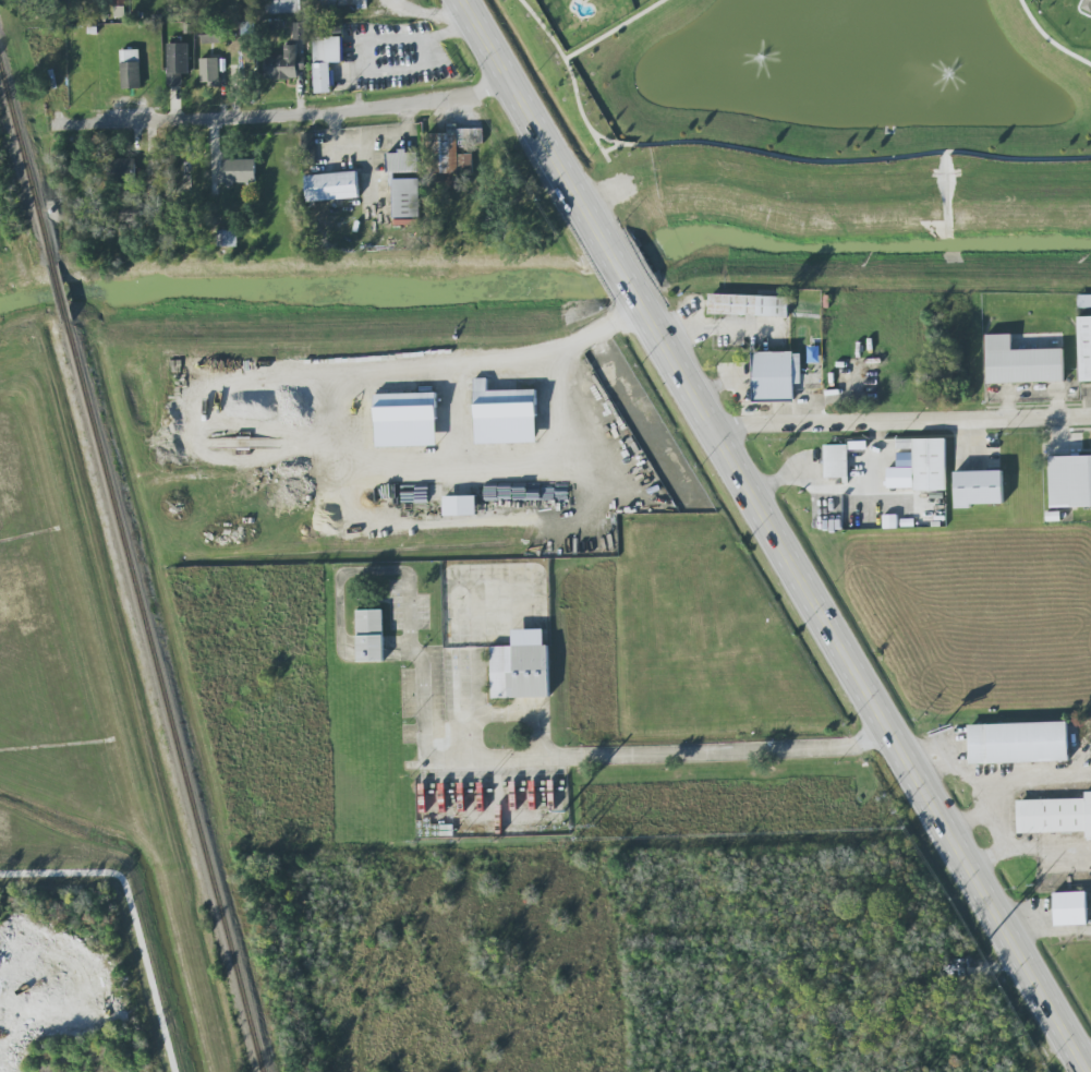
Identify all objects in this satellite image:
building: (120, 1)
building: (343, 3)
building: (1087, 5)
building: (283, 7)
road: (431, 13)
road: (614, 29)
building: (300, 32)
building: (211, 37)
road: (1050, 38)
road: (363, 44)
fountain: (761, 59)
road: (563, 60)
building: (325, 61)
building: (178, 62)
building: (282, 64)
building: (131, 69)
building: (209, 71)
fountain: (951, 73)
road: (360, 93)
road: (284, 122)
road: (535, 127)
road: (373, 134)
road: (598, 146)
road: (611, 148)
building: (452, 153)
railway: (27, 159)
road: (838, 161)
building: (122, 169)
building: (240, 170)
building: (332, 186)
building: (132, 213)
building: (407, 221)
building: (228, 238)
road: (621, 274)
railway: (62, 294)
building: (1083, 302)
building: (749, 305)
building: (1082, 348)
building: (1017, 362)
road: (476, 374)
building: (777, 375)
building: (505, 415)
building: (405, 420)
road: (451, 423)
road: (900, 423)
road: (557, 455)
building: (838, 461)
building: (930, 462)
building: (1068, 481)
building: (982, 487)
road: (839, 490)
building: (460, 505)
building: (369, 636)
building: (521, 666)
road: (861, 678)
railway: (166, 696)
road: (499, 713)
building: (1018, 743)
road: (495, 757)
road: (1003, 775)
building: (1055, 816)
road: (1031, 850)
building: (1070, 908)
road: (1090, 1060)

